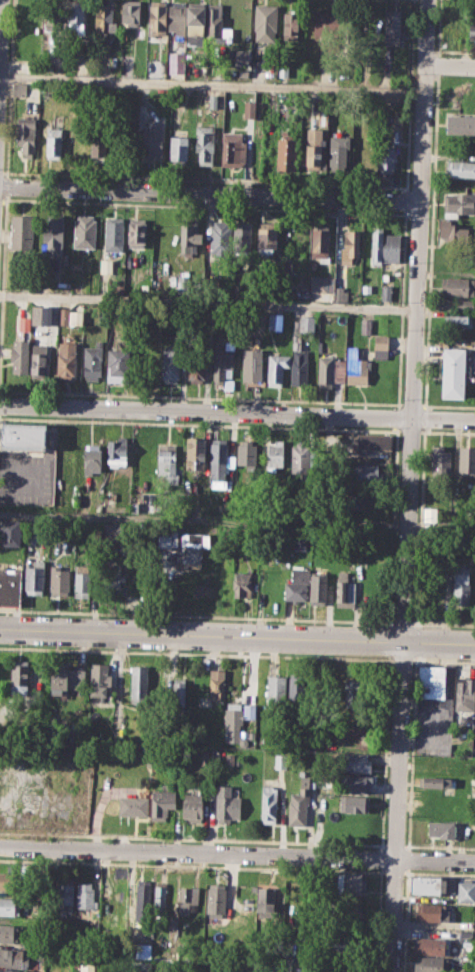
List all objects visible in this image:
road: (0, 11)
building: (130, 14)
building: (103, 15)
building: (77, 17)
building: (157, 17)
building: (177, 19)
building: (196, 19)
building: (266, 22)
building: (291, 24)
building: (393, 24)
building: (217, 25)
building: (449, 29)
building: (325, 33)
building: (472, 33)
building: (242, 56)
building: (175, 62)
road: (448, 65)
building: (282, 67)
building: (243, 73)
road: (210, 84)
building: (19, 89)
building: (213, 101)
building: (282, 107)
building: (249, 109)
building: (396, 113)
building: (323, 120)
building: (460, 123)
building: (26, 136)
building: (153, 142)
building: (54, 143)
building: (204, 143)
building: (314, 147)
building: (98, 149)
building: (178, 150)
building: (233, 150)
building: (339, 151)
building: (287, 152)
building: (363, 156)
building: (386, 157)
building: (460, 168)
road: (209, 194)
building: (457, 203)
building: (455, 230)
building: (22, 232)
building: (84, 232)
building: (113, 233)
building: (54, 234)
building: (136, 234)
building: (190, 236)
building: (242, 236)
building: (268, 236)
building: (220, 240)
building: (320, 240)
building: (376, 243)
building: (350, 246)
building: (391, 247)
building: (106, 265)
building: (318, 283)
building: (457, 286)
building: (386, 292)
building: (340, 294)
road: (206, 300)
building: (466, 304)
building: (41, 315)
building: (62, 316)
building: (102, 316)
building: (75, 317)
building: (274, 321)
building: (457, 322)
building: (23, 323)
building: (307, 323)
building: (365, 325)
building: (381, 347)
building: (19, 356)
building: (66, 359)
building: (39, 360)
building: (92, 361)
building: (171, 363)
building: (196, 363)
building: (222, 363)
building: (252, 364)
building: (117, 365)
building: (301, 366)
building: (355, 366)
building: (276, 368)
building: (329, 370)
building: (454, 372)
road: (237, 412)
building: (24, 435)
building: (372, 445)
building: (195, 452)
building: (118, 453)
building: (247, 453)
building: (274, 455)
building: (91, 457)
building: (300, 458)
building: (466, 459)
building: (440, 460)
building: (167, 462)
building: (219, 462)
building: (369, 473)
road: (407, 486)
building: (370, 495)
road: (421, 501)
road: (237, 520)
building: (11, 531)
building: (167, 538)
building: (301, 541)
building: (34, 578)
building: (109, 578)
building: (83, 580)
building: (59, 581)
building: (243, 582)
building: (297, 584)
building: (461, 584)
building: (10, 586)
building: (319, 587)
building: (345, 589)
road: (197, 615)
road: (403, 622)
road: (443, 623)
road: (237, 636)
road: (195, 652)
road: (401, 659)
road: (443, 660)
building: (19, 678)
building: (58, 680)
building: (99, 680)
building: (431, 681)
building: (139, 684)
building: (217, 685)
building: (275, 690)
building: (297, 691)
building: (465, 693)
building: (179, 695)
building: (351, 695)
building: (249, 711)
building: (233, 721)
building: (280, 761)
building: (354, 763)
building: (440, 763)
building: (436, 781)
building: (356, 784)
building: (162, 804)
building: (227, 804)
building: (269, 804)
building: (354, 804)
building: (133, 806)
building: (193, 808)
building: (298, 808)
building: (441, 828)
road: (237, 852)
building: (10, 881)
building: (350, 883)
building: (430, 884)
building: (465, 890)
building: (144, 892)
building: (65, 893)
building: (161, 895)
building: (85, 897)
building: (216, 897)
building: (187, 899)
building: (264, 901)
building: (9, 906)
building: (349, 913)
building: (432, 913)
building: (11, 932)
building: (466, 936)
building: (431, 945)
building: (13, 957)
building: (36, 960)
building: (430, 964)
building: (87, 967)
building: (272, 969)
building: (9, 970)

